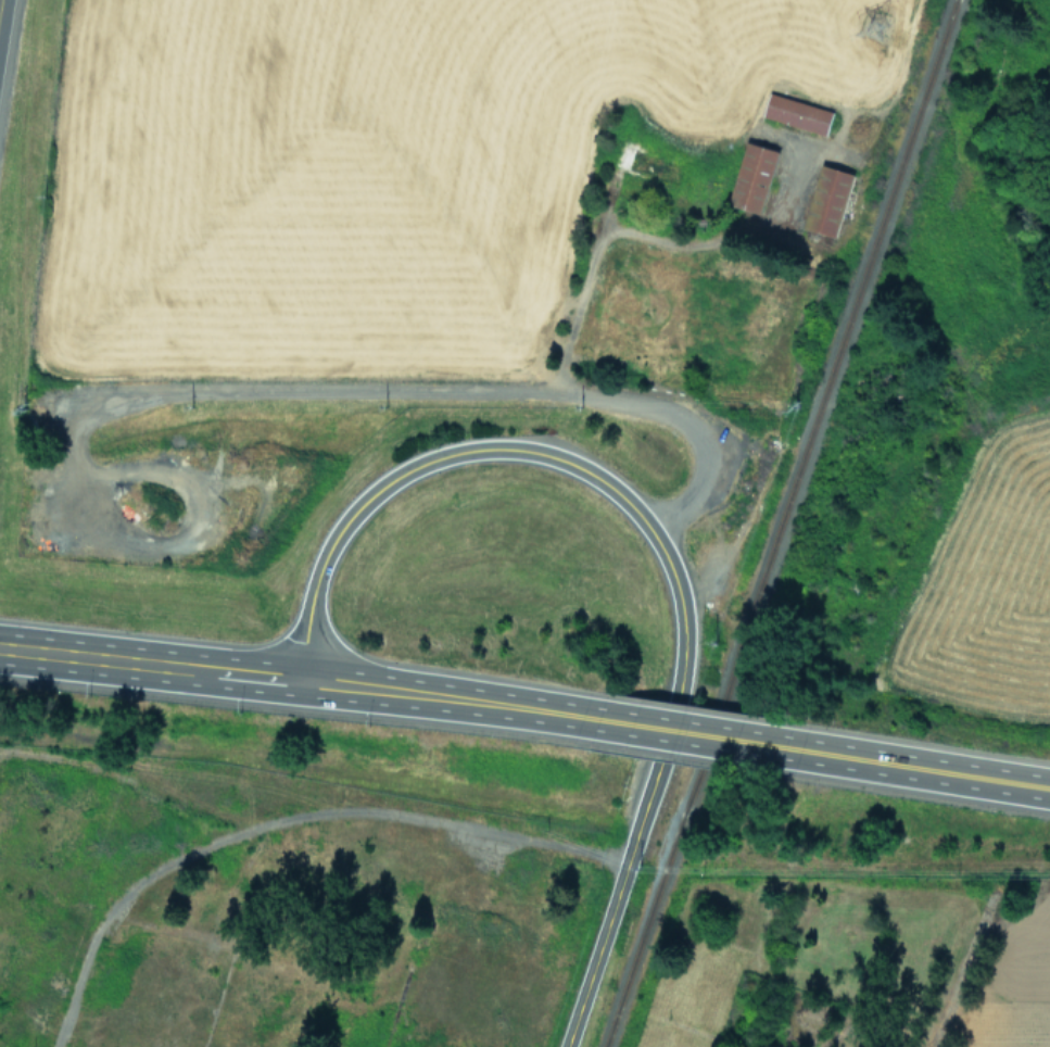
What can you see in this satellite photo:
road: (2, 17)
power tower: (869, 26)
building: (797, 113)
building: (644, 162)
building: (752, 177)
crop: (637, 198)
building: (826, 200)
road: (640, 242)
road: (439, 390)
railway: (782, 523)
road: (655, 537)
road: (298, 679)
road: (676, 732)
road: (904, 767)

